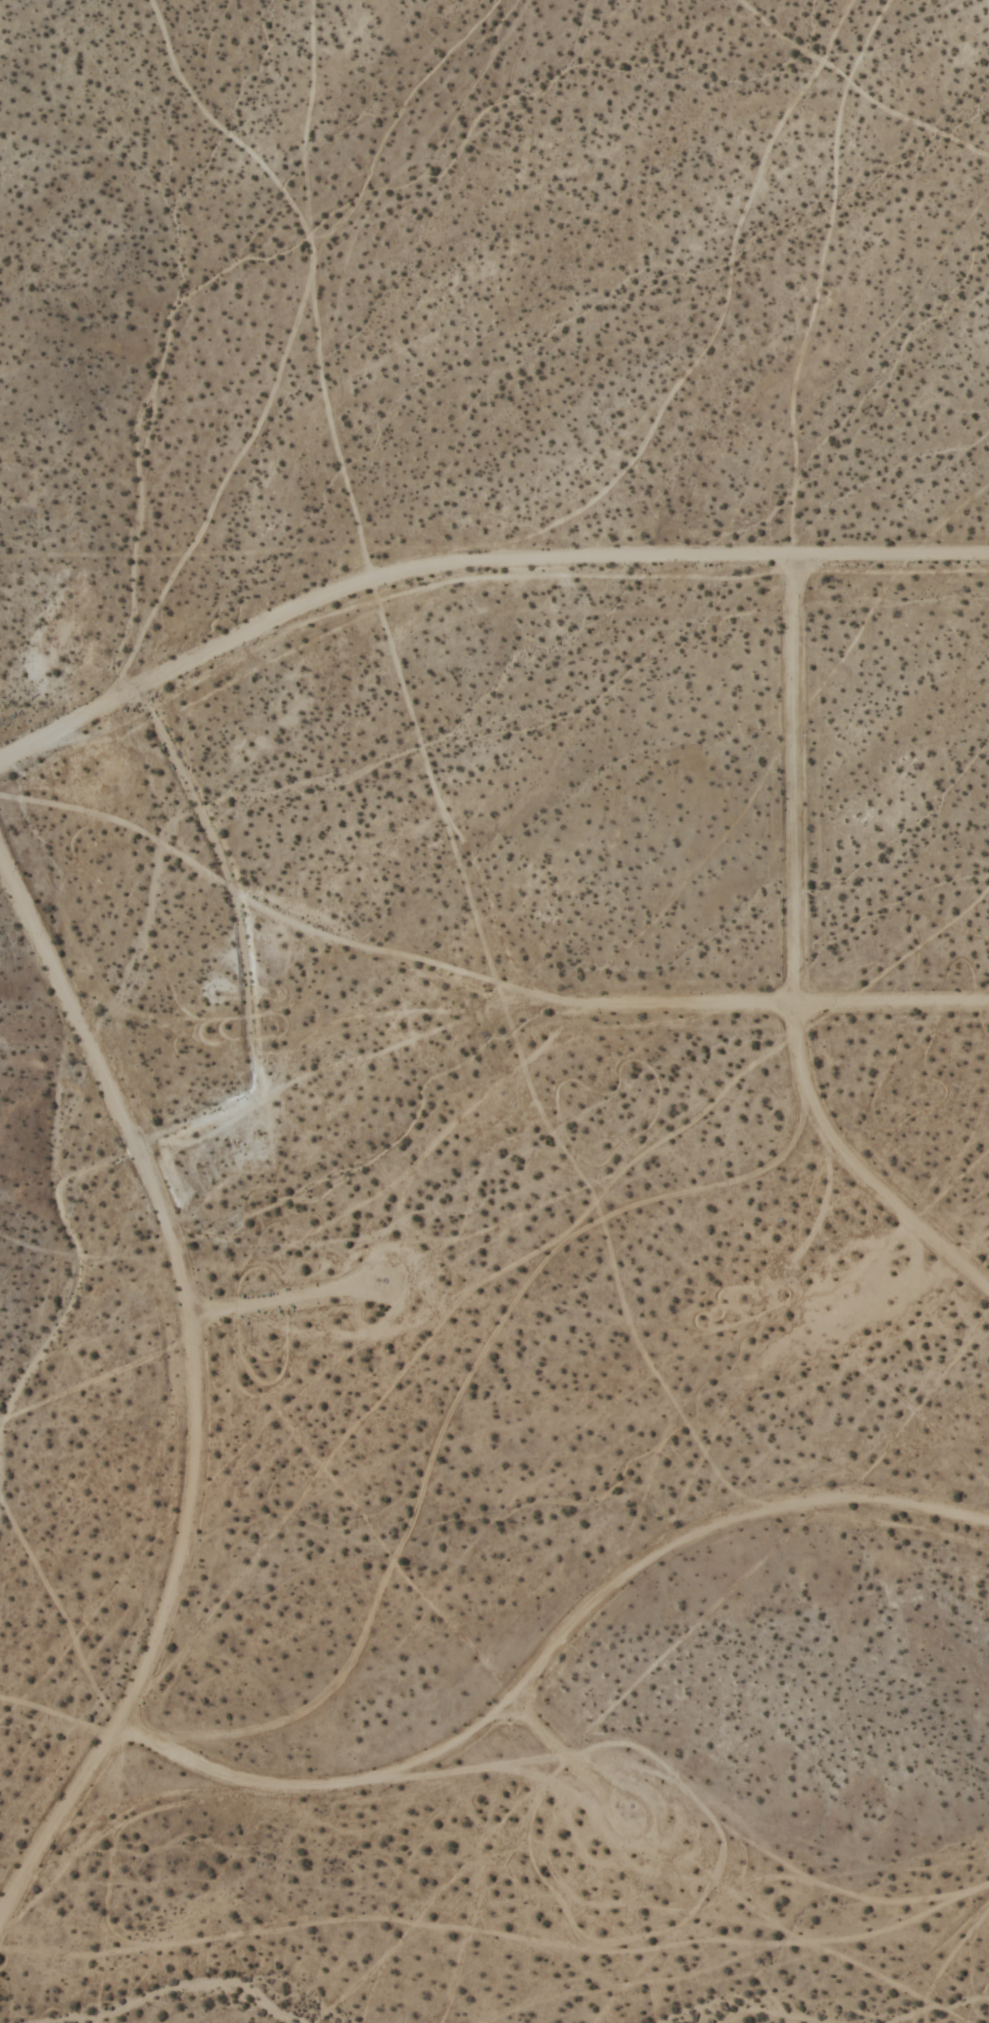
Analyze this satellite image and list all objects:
road: (472, 564)
road: (798, 959)
road: (768, 1009)
road: (280, 1302)
road: (199, 1400)
road: (553, 1658)
road: (573, 1764)

